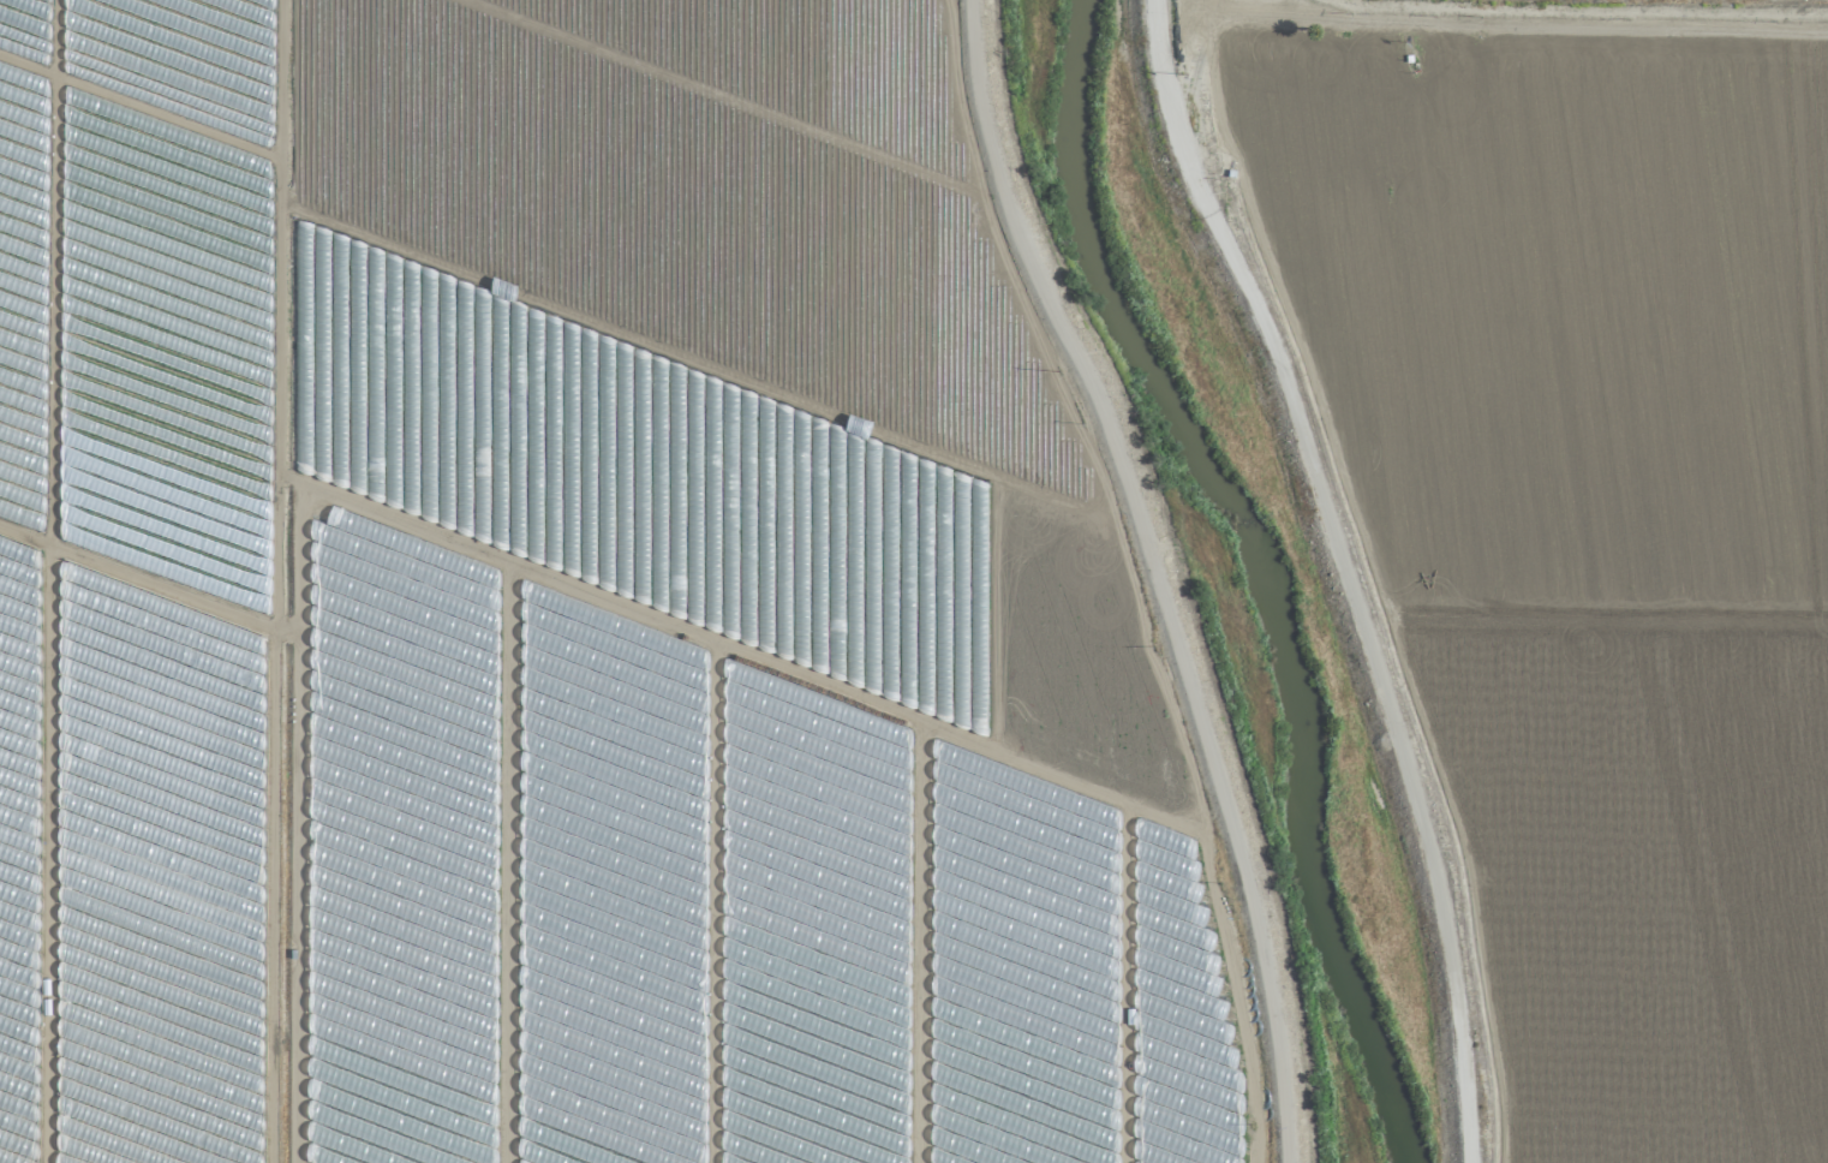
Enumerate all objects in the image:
road: (1572, 19)
crop: (1557, 514)
road: (1154, 572)
crop: (563, 613)

